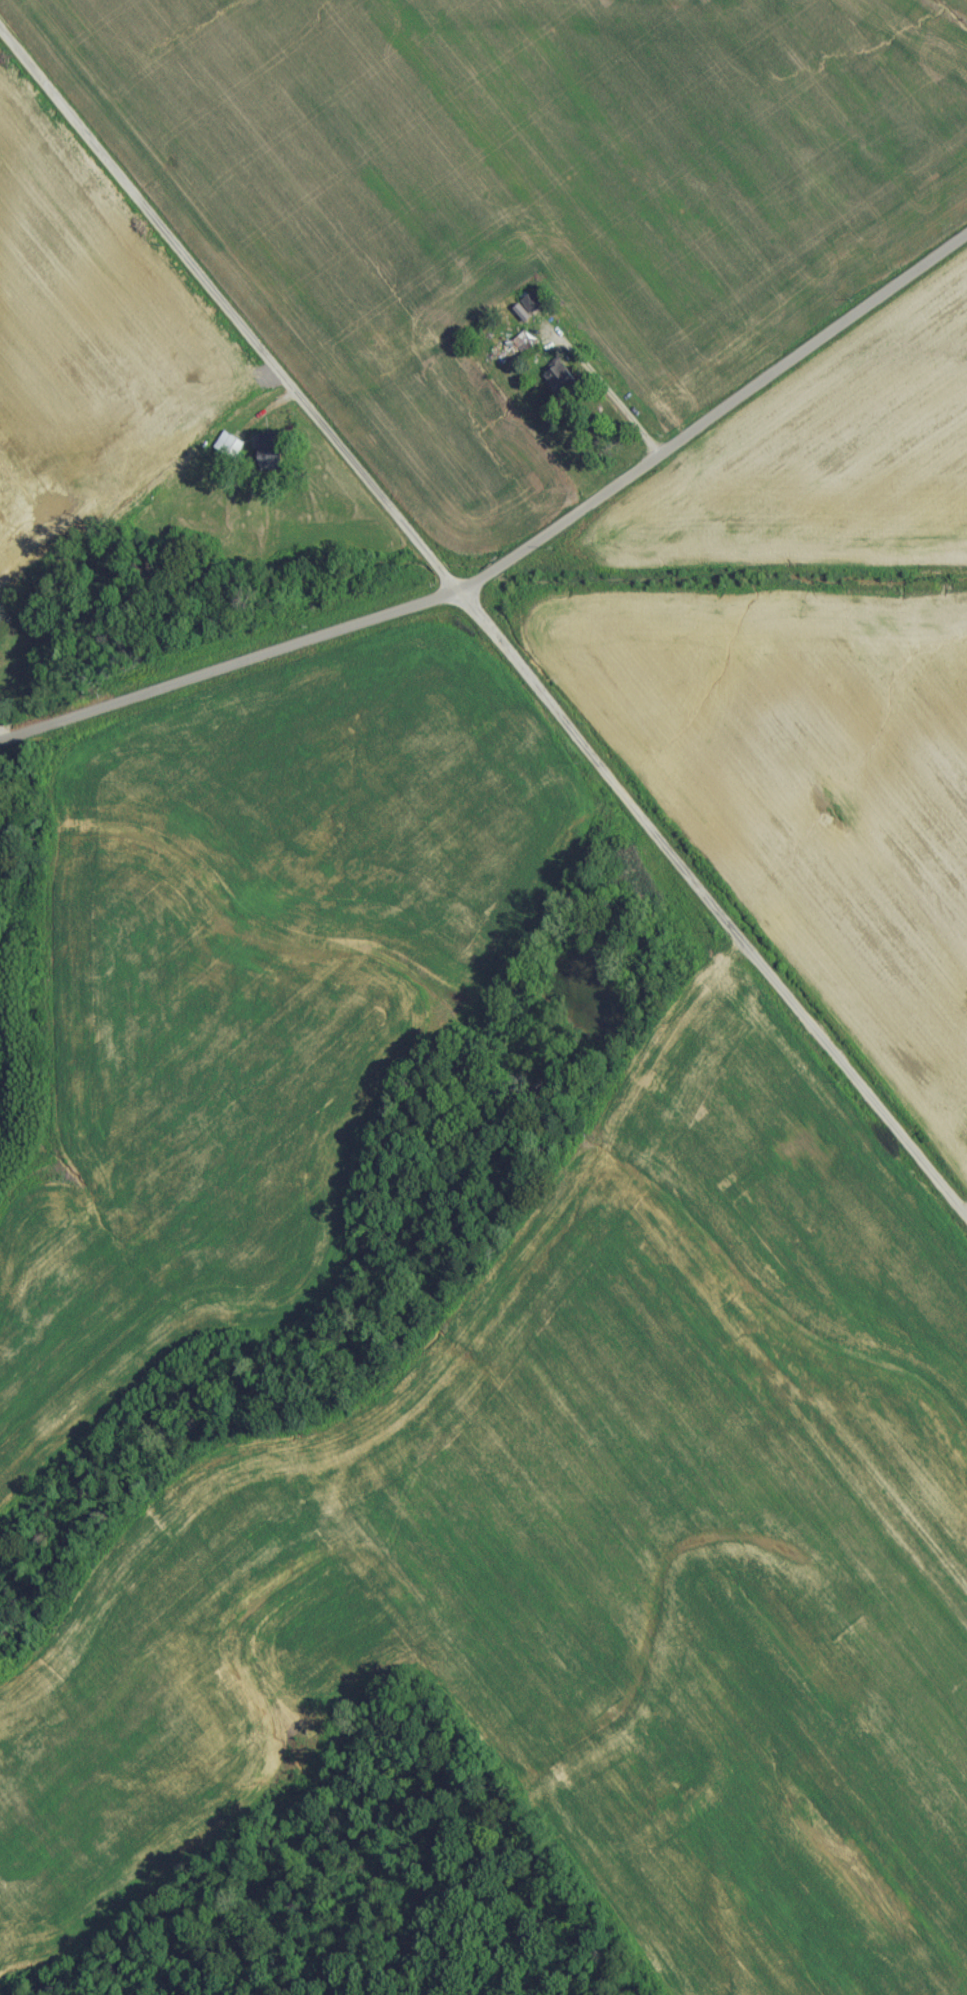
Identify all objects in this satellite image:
road: (515, 553)
road: (486, 626)

